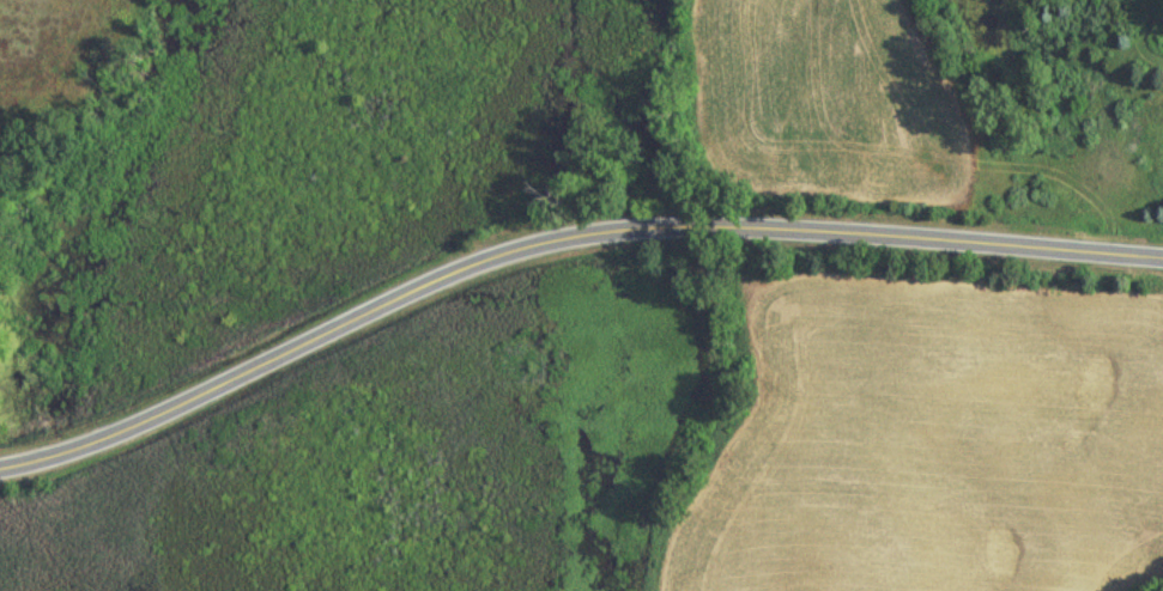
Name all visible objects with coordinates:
crop: (834, 106)
road: (558, 244)
crop: (935, 449)

